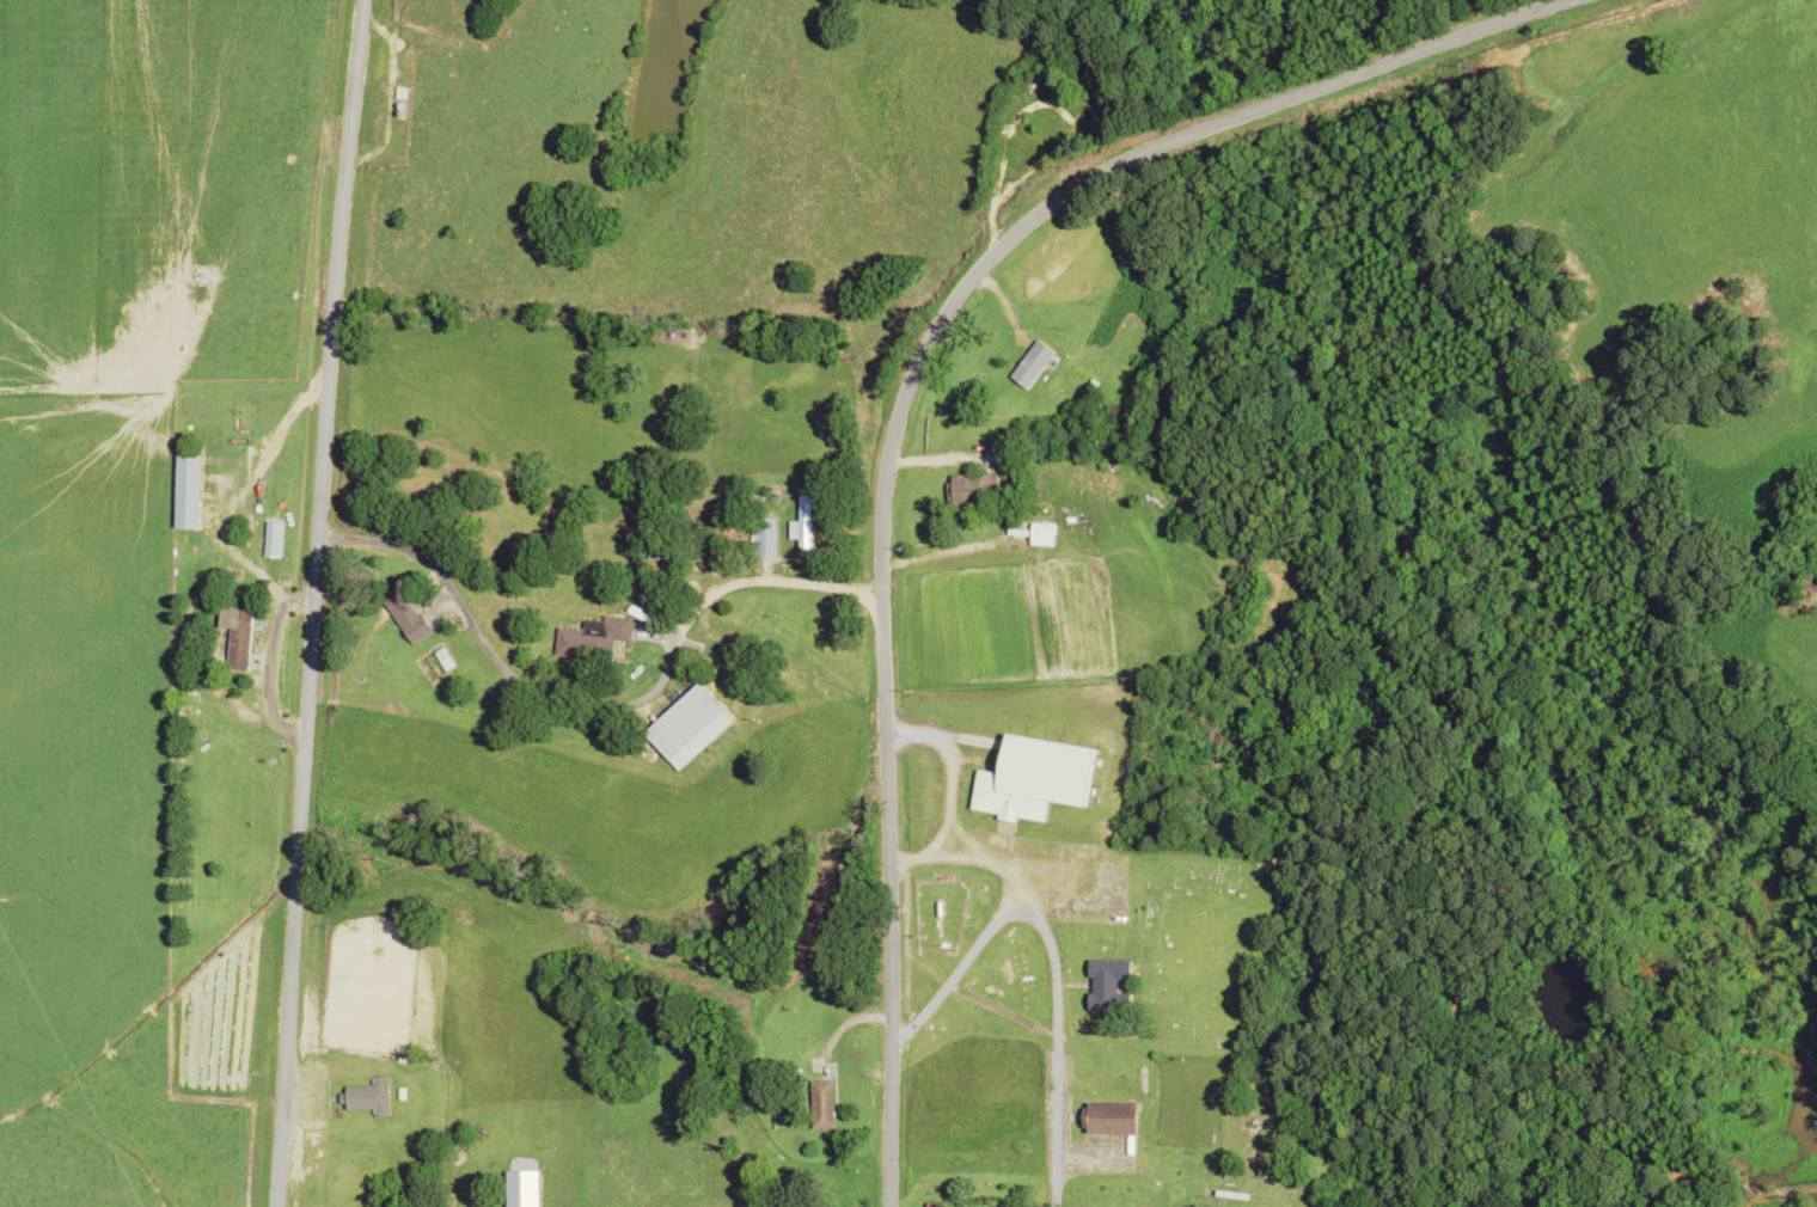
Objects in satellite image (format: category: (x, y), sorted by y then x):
building: (1024, 373)
road: (904, 397)
building: (968, 490)
building: (190, 492)
building: (767, 539)
road: (311, 602)
building: (410, 618)
building: (240, 637)
building: (593, 641)
road: (592, 712)
building: (1034, 777)
road: (1045, 954)
building: (1109, 986)
building: (373, 1098)
building: (824, 1107)
building: (1112, 1116)

